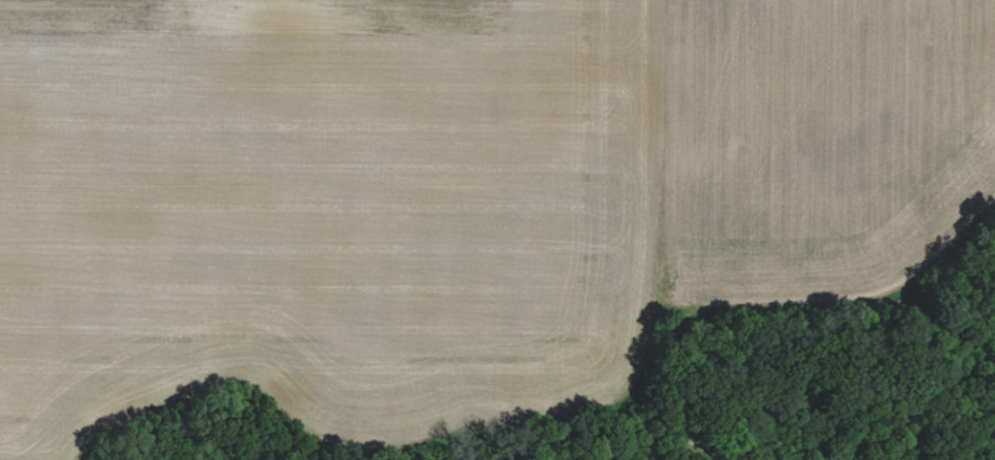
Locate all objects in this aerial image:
crop: (322, 209)

